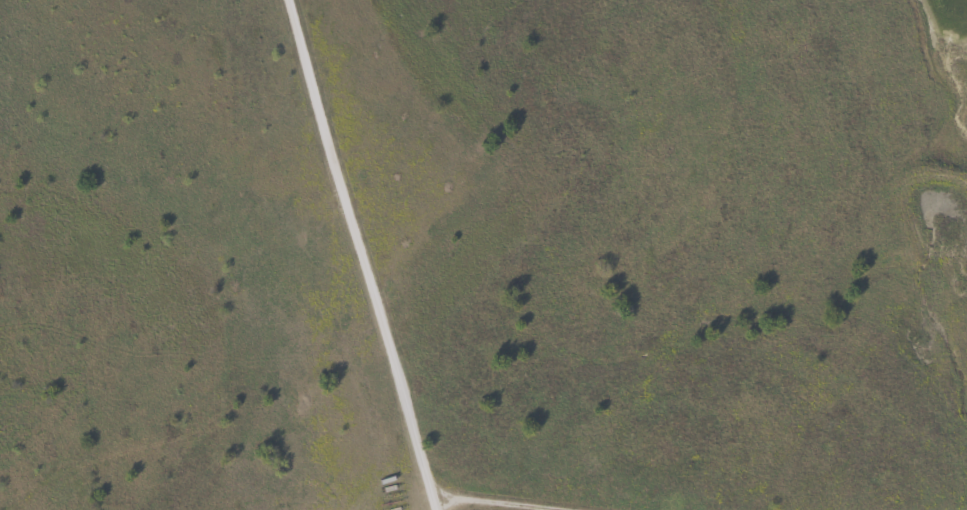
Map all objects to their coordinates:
road: (362, 255)

